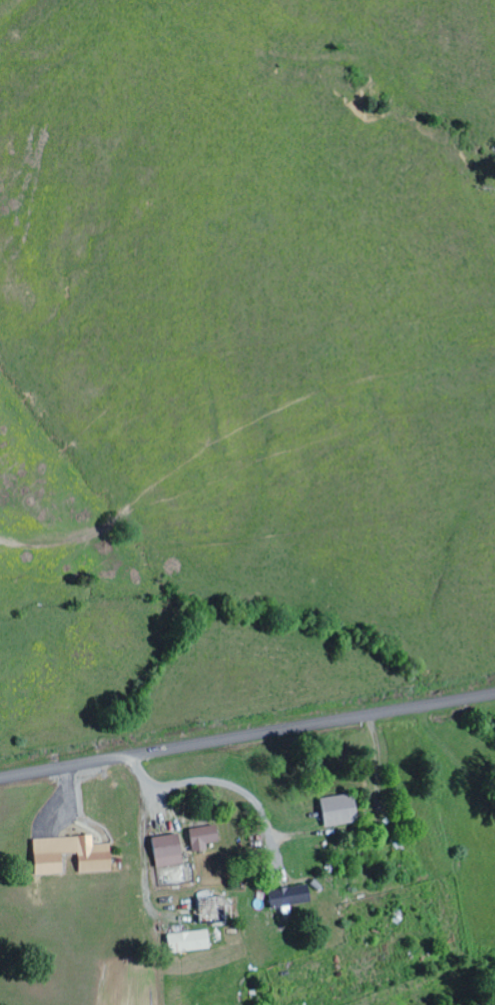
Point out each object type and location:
road: (247, 734)
building: (336, 810)
building: (201, 837)
building: (165, 851)
building: (93, 863)
building: (287, 896)
building: (209, 911)
building: (185, 943)

